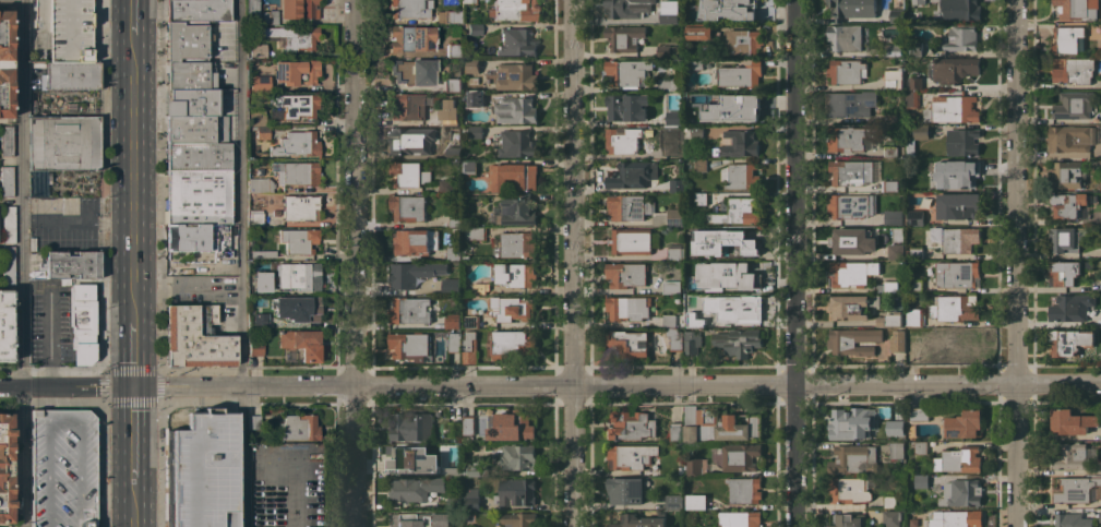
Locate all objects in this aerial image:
building: (469, 2)
building: (918, 2)
road: (134, 3)
building: (630, 8)
building: (409, 9)
building: (726, 9)
building: (852, 9)
building: (1075, 9)
building: (198, 10)
building: (299, 10)
building: (513, 10)
building: (961, 10)
building: (31, 14)
building: (259, 14)
building: (898, 15)
building: (453, 16)
building: (668, 16)
building: (475, 29)
building: (69, 32)
parking lot: (69, 32)
building: (698, 32)
building: (845, 36)
building: (291, 37)
building: (623, 37)
building: (411, 38)
building: (959, 38)
building: (1068, 39)
building: (743, 40)
building: (516, 43)
building: (913, 48)
building: (893, 49)
building: (453, 50)
building: (668, 50)
building: (259, 51)
building: (188, 56)
building: (694, 62)
building: (5, 63)
building: (472, 65)
building: (954, 70)
building: (626, 71)
building: (846, 71)
building: (1075, 71)
building: (297, 72)
building: (414, 72)
building: (741, 74)
building: (71, 76)
building: (515, 76)
building: (894, 79)
building: (474, 80)
building: (1100, 81)
building: (260, 83)
building: (668, 83)
building: (915, 83)
building: (454, 85)
building: (475, 98)
building: (696, 98)
building: (912, 98)
building: (851, 104)
building: (296, 105)
building: (1073, 105)
building: (626, 106)
building: (407, 107)
building: (735, 108)
building: (447, 109)
building: (954, 109)
building: (515, 110)
building: (926, 113)
building: (671, 117)
building: (256, 118)
building: (893, 118)
building: (196, 129)
building: (475, 131)
building: (696, 131)
building: (921, 131)
building: (261, 132)
building: (667, 135)
building: (848, 137)
building: (622, 139)
building: (1069, 139)
building: (412, 140)
building: (962, 141)
building: (5, 142)
building: (515, 143)
building: (737, 143)
building: (64, 144)
building: (296, 144)
building: (910, 148)
building: (454, 151)
building: (890, 151)
building: (669, 152)
building: (198, 156)
building: (699, 164)
building: (469, 167)
building: (961, 171)
road: (133, 172)
building: (851, 172)
building: (298, 173)
building: (406, 173)
building: (633, 173)
building: (1066, 175)
building: (740, 176)
building: (513, 177)
building: (5, 182)
building: (36, 183)
building: (677, 184)
building: (914, 184)
building: (260, 185)
building: (444, 185)
building: (889, 185)
road: (240, 192)
building: (198, 196)
building: (699, 197)
building: (849, 205)
building: (1068, 205)
building: (958, 206)
building: (407, 207)
building: (300, 208)
building: (642, 209)
building: (518, 211)
building: (739, 212)
building: (275, 213)
building: (894, 217)
building: (915, 217)
building: (254, 218)
building: (455, 218)
road: (77, 219)
building: (8, 224)
building: (475, 232)
building: (198, 238)
building: (956, 238)
building: (1066, 238)
building: (848, 239)
building: (630, 240)
building: (741, 240)
building: (299, 241)
building: (411, 242)
building: (517, 244)
building: (894, 251)
building: (675, 252)
building: (692, 252)
building: (454, 253)
building: (914, 253)
building: (204, 254)
road: (23, 263)
road: (352, 263)
road: (571, 263)
road: (793, 263)
road: (1015, 263)
building: (71, 264)
building: (8, 265)
building: (412, 273)
building: (852, 273)
building: (1063, 273)
building: (516, 274)
building: (626, 274)
building: (957, 274)
building: (726, 275)
building: (299, 276)
building: (448, 285)
building: (915, 285)
building: (671, 286)
building: (887, 286)
building: (256, 288)
building: (481, 288)
building: (848, 307)
building: (512, 308)
building: (627, 308)
building: (737, 308)
building: (955, 308)
building: (1070, 308)
building: (300, 309)
building: (409, 310)
building: (914, 316)
building: (672, 320)
building: (889, 320)
building: (452, 321)
building: (471, 321)
building: (260, 322)
building: (695, 322)
building: (81, 323)
road: (49, 324)
building: (5, 325)
building: (674, 337)
building: (195, 338)
building: (692, 340)
building: (853, 340)
building: (897, 340)
building: (454, 342)
building: (739, 342)
building: (1064, 342)
building: (513, 343)
building: (627, 343)
building: (954, 343)
building: (301, 344)
building: (912, 344)
building: (409, 346)
building: (469, 347)
building: (255, 348)
road: (132, 361)
road: (615, 384)
traffic signals: (132, 385)
road: (65, 386)
road: (131, 409)
building: (919, 414)
building: (1072, 421)
building: (253, 422)
building: (847, 422)
building: (691, 423)
building: (468, 424)
building: (631, 424)
building: (965, 424)
building: (731, 426)
building: (411, 427)
building: (513, 427)
building: (895, 427)
building: (299, 428)
building: (455, 428)
building: (675, 431)
building: (921, 447)
building: (897, 450)
building: (1074, 455)
road: (240, 456)
building: (409, 456)
building: (631, 456)
building: (740, 456)
building: (518, 457)
building: (853, 459)
building: (959, 459)
building: (696, 466)
building: (4, 468)
building: (61, 468)
building: (452, 469)
building: (204, 470)
building: (475, 470)
road: (131, 480)
building: (921, 481)
building: (412, 489)
building: (848, 489)
building: (1075, 489)
building: (625, 490)
building: (744, 490)
building: (516, 492)
building: (961, 492)
building: (471, 499)
building: (889, 501)
building: (455, 502)
building: (671, 502)
building: (698, 502)
building: (893, 517)
building: (740, 518)
building: (956, 518)
building: (410, 519)
building: (518, 519)
building: (1072, 519)
building: (638, 520)
building: (848, 520)
building: (447, 526)

